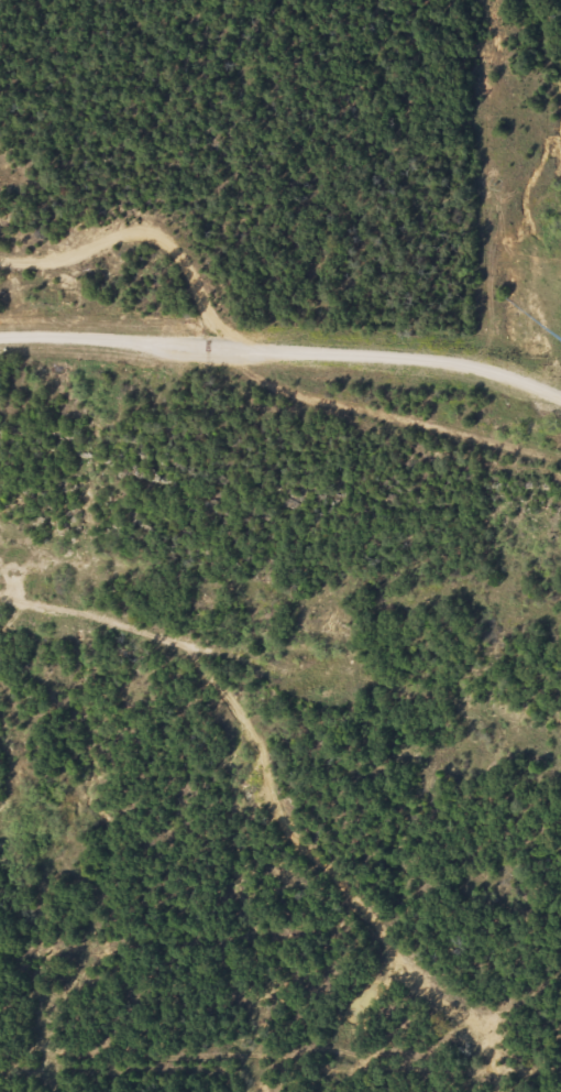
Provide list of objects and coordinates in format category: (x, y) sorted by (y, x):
road: (190, 947)

